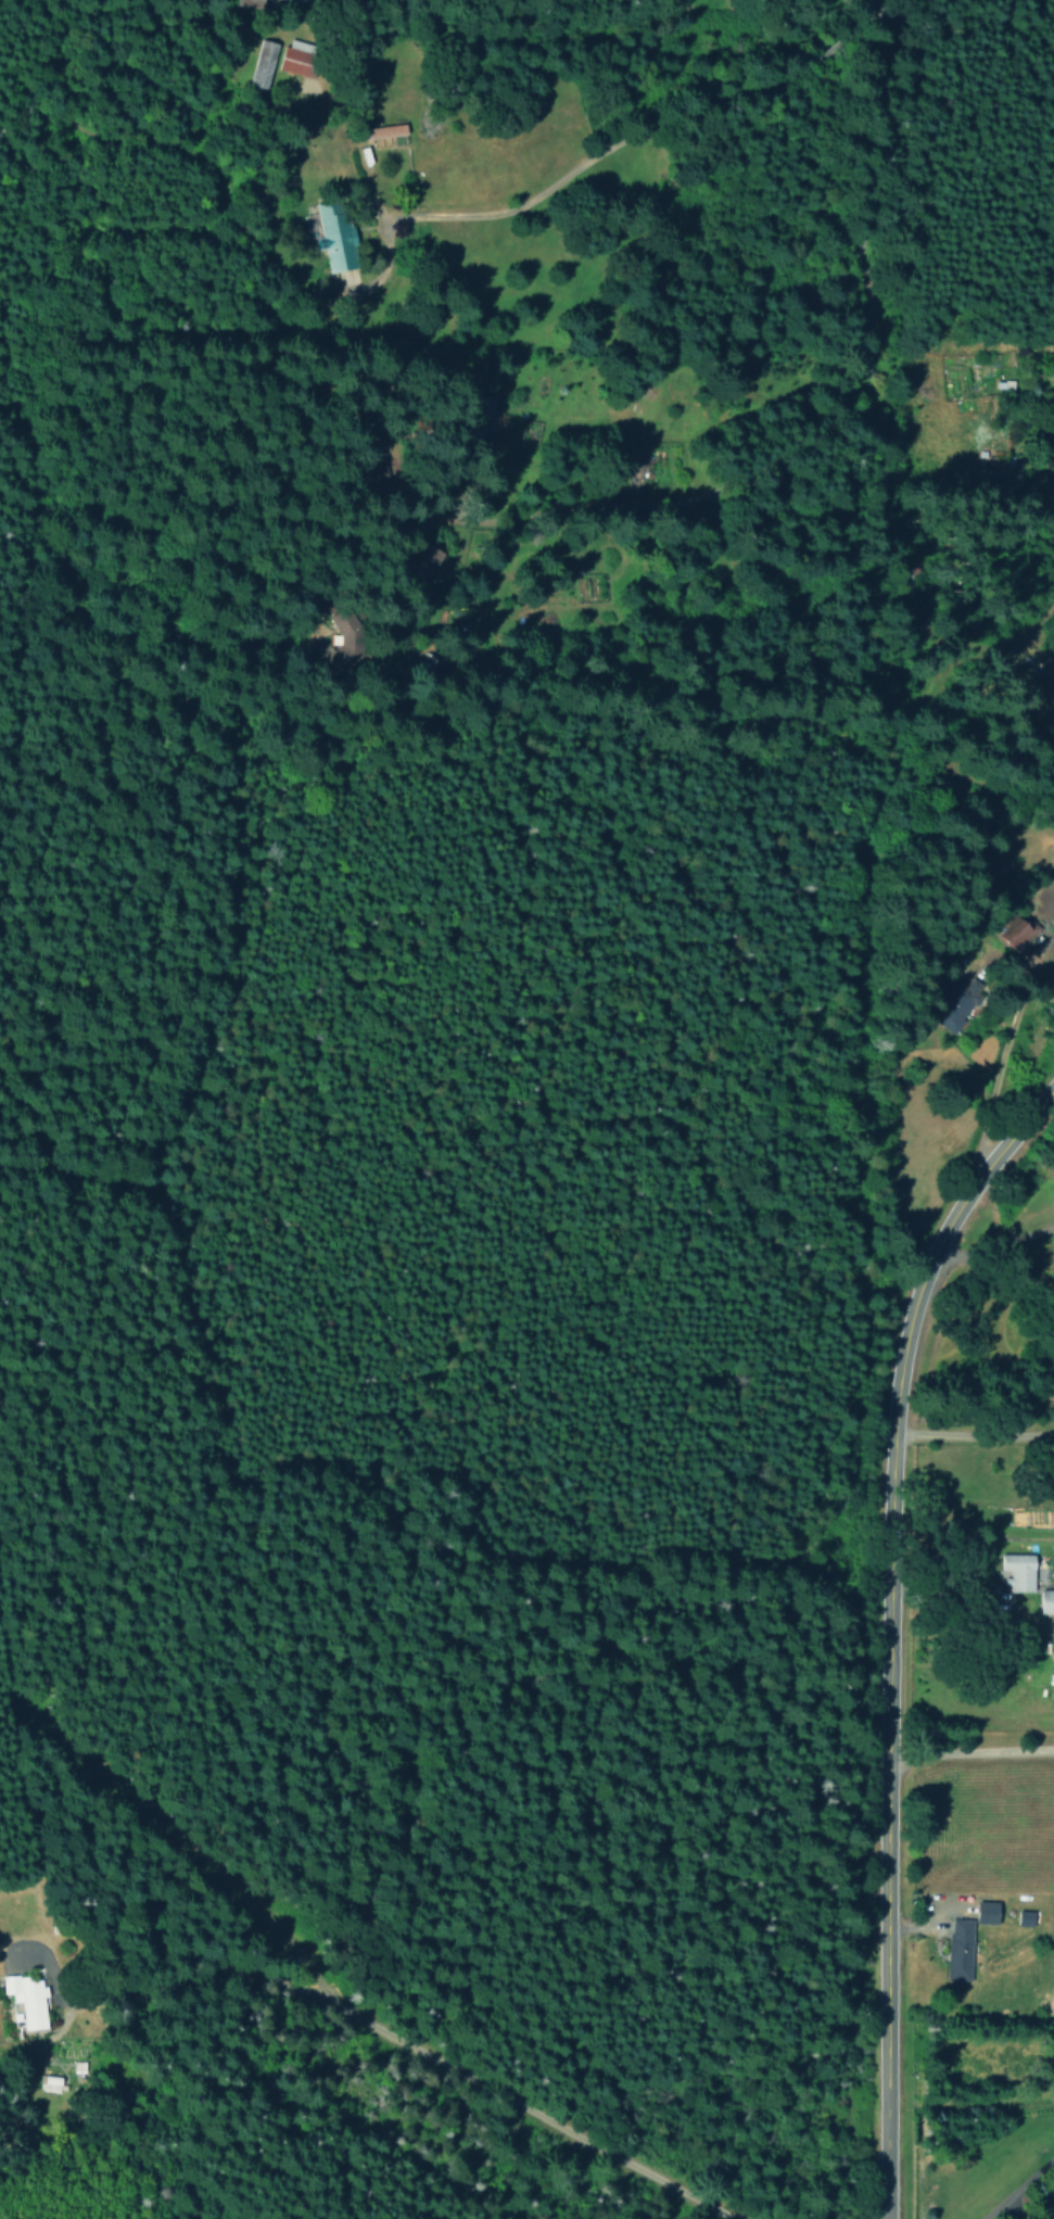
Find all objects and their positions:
building: (297, 56)
building: (262, 63)
building: (388, 134)
road: (612, 157)
building: (335, 234)
road: (792, 420)
building: (344, 635)
road: (978, 1208)
road: (957, 1447)
building: (1016, 1571)
building: (1044, 1601)
road: (209, 1613)
road: (859, 1613)
road: (955, 1752)
road: (39, 1887)
building: (988, 1911)
building: (961, 1949)
road: (221, 1953)
building: (49, 2083)

